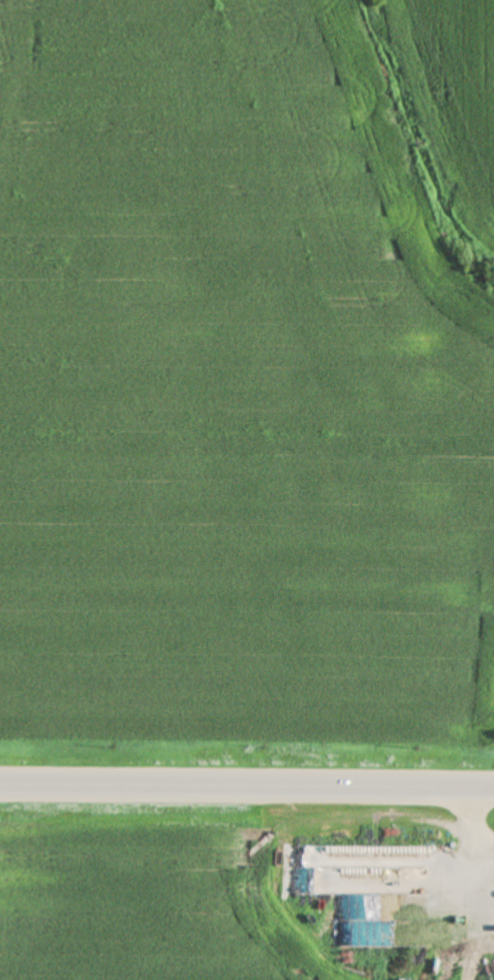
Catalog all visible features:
road: (247, 780)
road: (479, 906)

